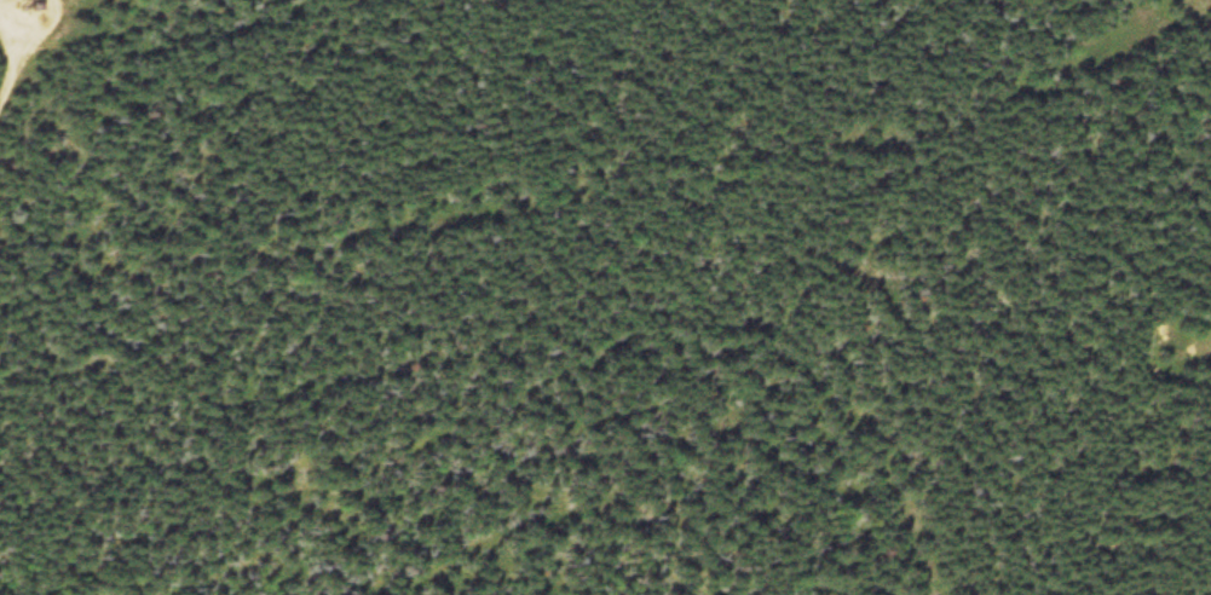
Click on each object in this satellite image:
petroleum well: (35, 8)
road: (18, 50)

